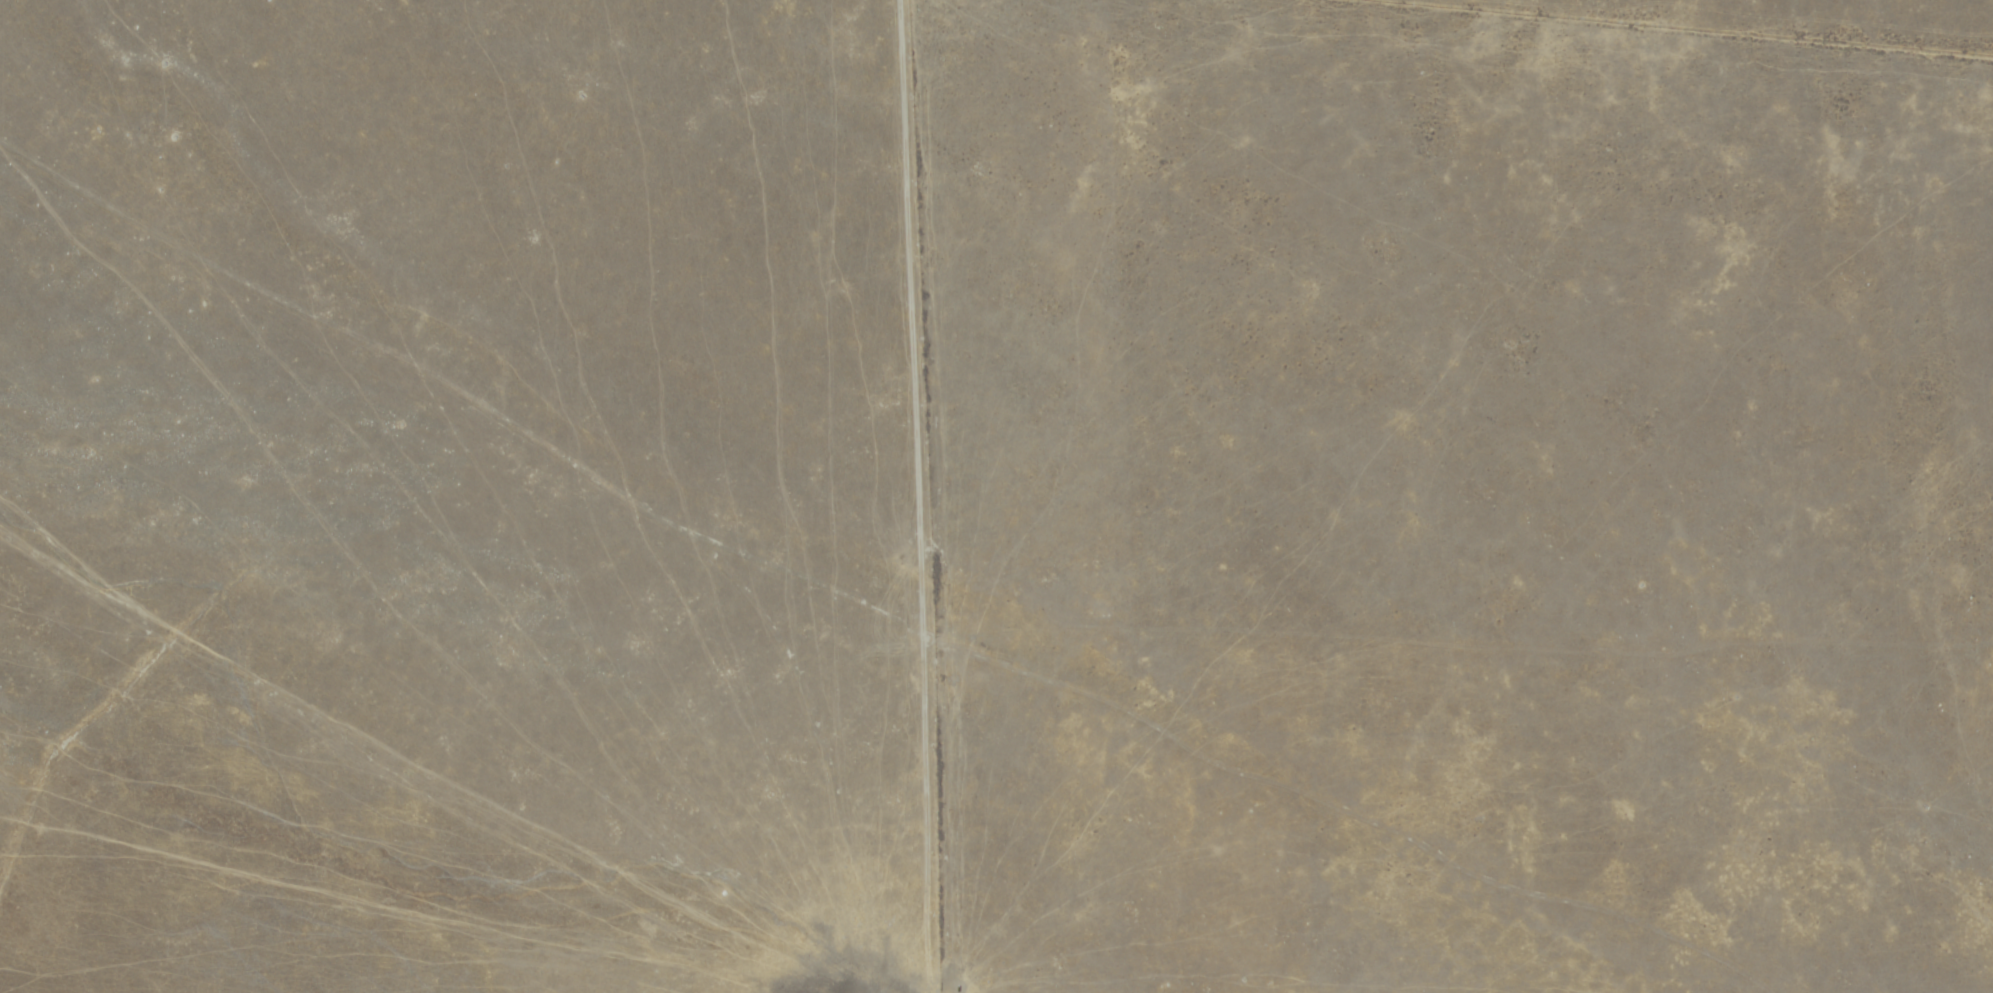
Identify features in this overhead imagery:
road: (912, 321)
road: (861, 608)

